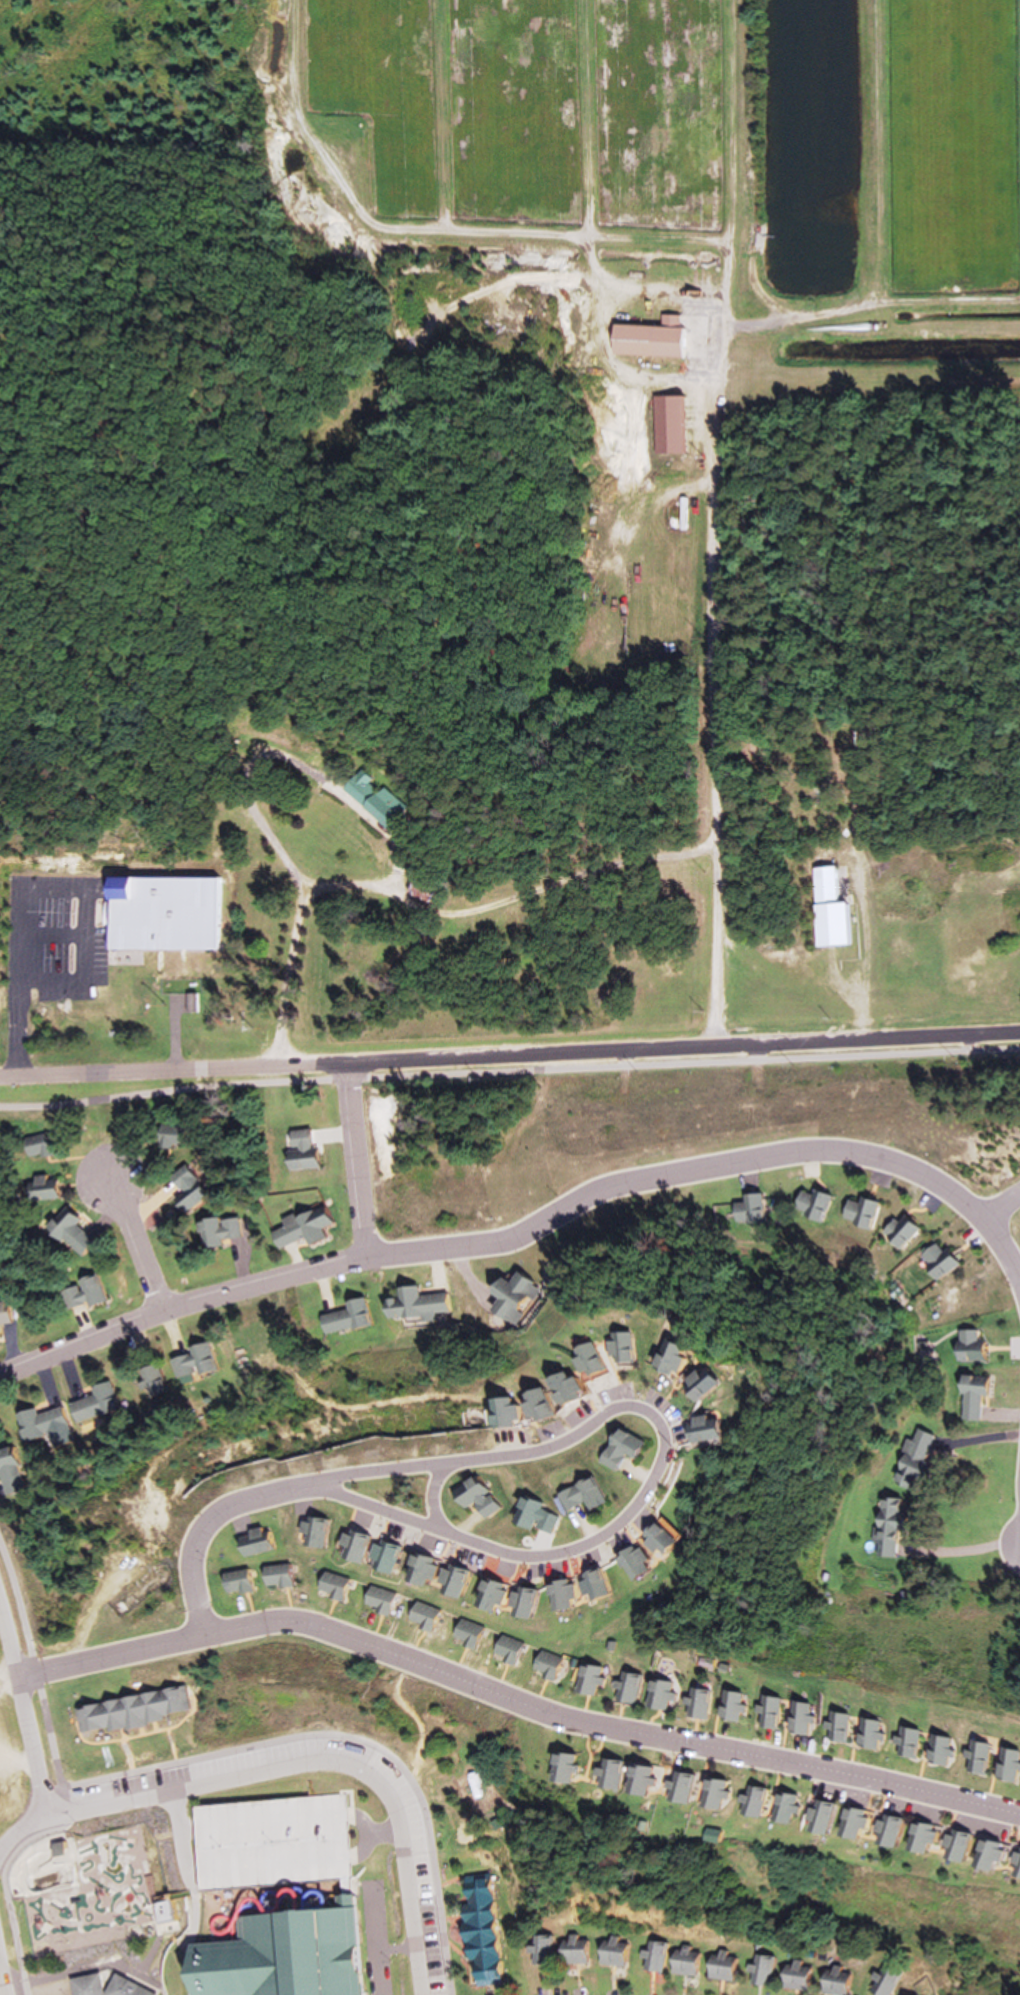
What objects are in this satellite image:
building: (646, 340)
building: (665, 426)
road: (708, 709)
building: (368, 800)
building: (419, 891)
road: (414, 901)
building: (826, 911)
building: (160, 916)
road: (14, 983)
road: (509, 1056)
road: (509, 1071)
building: (166, 1138)
building: (32, 1148)
building: (297, 1151)
road: (354, 1160)
building: (38, 1190)
building: (186, 1191)
building: (811, 1204)
road: (1000, 1206)
building: (749, 1210)
building: (858, 1212)
building: (300, 1228)
road: (531, 1230)
building: (897, 1231)
building: (217, 1232)
building: (68, 1235)
road: (136, 1245)
building: (935, 1260)
building: (80, 1295)
building: (511, 1298)
building: (414, 1304)
building: (4, 1314)
building: (345, 1317)
building: (967, 1345)
building: (617, 1347)
building: (583, 1359)
building: (662, 1359)
building: (193, 1361)
building: (151, 1381)
building: (692, 1384)
building: (560, 1387)
building: (970, 1396)
building: (94, 1403)
building: (517, 1409)
building: (41, 1422)
building: (694, 1427)
building: (614, 1448)
road: (656, 1459)
building: (908, 1460)
building: (9, 1472)
road: (430, 1495)
building: (575, 1495)
building: (471, 1497)
building: (529, 1516)
road: (209, 1525)
building: (884, 1525)
building: (316, 1534)
building: (651, 1539)
building: (254, 1542)
road: (1019, 1546)
building: (349, 1547)
road: (962, 1551)
building: (378, 1557)
building: (626, 1562)
building: (414, 1571)
building: (275, 1576)
building: (444, 1581)
building: (235, 1582)
building: (328, 1586)
building: (586, 1586)
building: (146, 1587)
building: (555, 1594)
building: (481, 1595)
building: (372, 1600)
building: (514, 1603)
building: (458, 1633)
building: (502, 1650)
building: (545, 1666)
road: (37, 1679)
building: (590, 1680)
building: (627, 1690)
building: (661, 1696)
road: (514, 1701)
building: (698, 1704)
building: (730, 1707)
building: (129, 1711)
building: (767, 1714)
road: (23, 1716)
building: (799, 1720)
building: (839, 1729)
road: (339, 1734)
building: (871, 1735)
building: (906, 1743)
building: (938, 1751)
building: (974, 1758)
road: (320, 1761)
building: (1008, 1767)
building: (566, 1768)
building: (612, 1776)
building: (638, 1781)
building: (680, 1789)
building: (711, 1795)
building: (750, 1802)
building: (781, 1809)
building: (814, 1820)
building: (849, 1824)
road: (18, 1829)
building: (884, 1831)
building: (917, 1839)
building: (271, 1843)
building: (954, 1846)
building: (986, 1857)
building: (1018, 1867)
building: (161, 1911)
building: (477, 1930)
building: (541, 1950)
building: (571, 1950)
building: (295, 1951)
building: (610, 1952)
building: (654, 1956)
building: (681, 1961)
building: (718, 1966)
building: (760, 1971)
building: (794, 1976)
building: (833, 1981)
road: (2, 1982)
building: (882, 1982)
building: (84, 1985)
building: (122, 1988)
building: (919, 1994)

